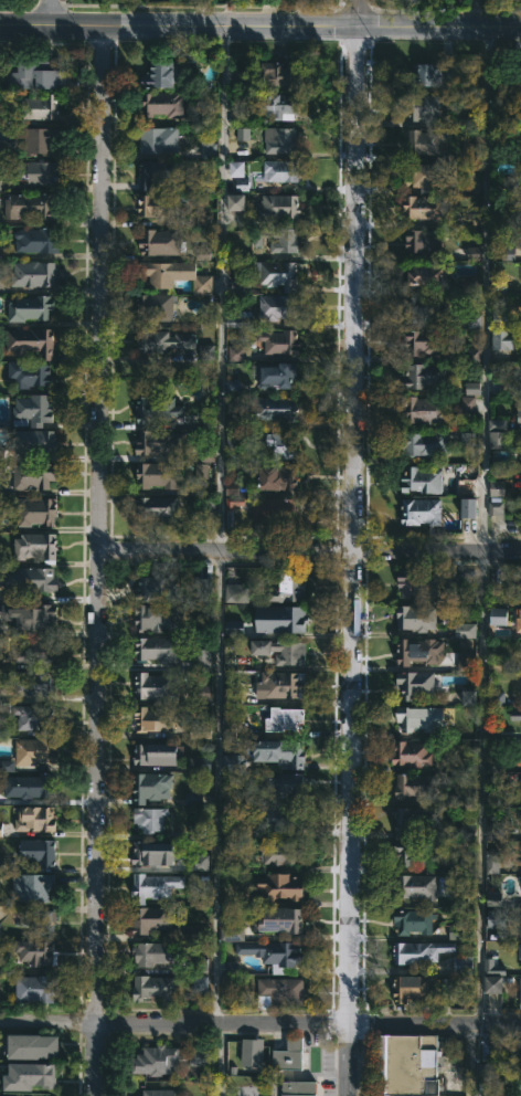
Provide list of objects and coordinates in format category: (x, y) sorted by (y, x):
road: (355, 11)
road: (51, 12)
road: (177, 20)
road: (437, 24)
building: (168, 73)
building: (518, 73)
building: (36, 74)
building: (279, 74)
building: (429, 74)
building: (160, 103)
building: (280, 105)
building: (39, 106)
building: (424, 107)
building: (40, 139)
building: (158, 139)
building: (280, 139)
building: (423, 141)
building: (1, 149)
building: (208, 150)
building: (235, 169)
building: (279, 170)
building: (42, 172)
building: (159, 172)
building: (427, 177)
building: (199, 183)
building: (0, 187)
building: (235, 202)
building: (30, 205)
building: (159, 205)
building: (277, 207)
building: (424, 207)
building: (36, 240)
building: (288, 241)
building: (423, 241)
building: (161, 242)
building: (472, 253)
building: (507, 253)
building: (32, 273)
building: (279, 274)
building: (428, 274)
building: (173, 275)
road: (219, 285)
building: (240, 285)
building: (468, 285)
building: (499, 286)
road: (483, 288)
building: (155, 305)
building: (30, 307)
building: (279, 307)
building: (424, 308)
building: (238, 318)
building: (474, 320)
building: (208, 323)
building: (501, 331)
building: (31, 340)
building: (162, 340)
building: (278, 341)
building: (425, 341)
building: (206, 352)
building: (235, 352)
building: (472, 354)
building: (29, 373)
building: (274, 375)
building: (423, 375)
building: (231, 384)
building: (471, 388)
building: (467, 403)
building: (35, 408)
building: (272, 408)
building: (159, 409)
building: (419, 410)
building: (519, 418)
building: (496, 433)
building: (467, 439)
building: (34, 442)
building: (159, 442)
building: (283, 444)
building: (425, 444)
building: (206, 454)
building: (201, 471)
building: (158, 474)
building: (33, 475)
building: (278, 477)
building: (520, 477)
building: (421, 479)
building: (465, 487)
building: (497, 487)
building: (232, 494)
building: (496, 506)
building: (157, 507)
building: (468, 507)
building: (260, 508)
building: (32, 510)
building: (422, 510)
building: (35, 547)
road: (310, 550)
road: (100, 558)
road: (349, 559)
building: (30, 579)
building: (453, 581)
building: (417, 582)
building: (288, 587)
building: (155, 589)
building: (202, 589)
building: (236, 593)
building: (34, 616)
building: (498, 616)
building: (416, 618)
building: (155, 619)
building: (291, 619)
building: (520, 624)
building: (234, 628)
building: (465, 630)
building: (520, 646)
building: (157, 650)
building: (418, 650)
building: (34, 652)
building: (289, 653)
building: (201, 658)
building: (464, 661)
building: (31, 683)
building: (414, 684)
building: (281, 685)
building: (155, 686)
building: (468, 697)
building: (497, 698)
building: (515, 715)
building: (33, 717)
building: (416, 718)
building: (153, 719)
building: (284, 719)
building: (34, 751)
building: (280, 753)
building: (411, 753)
building: (155, 755)
building: (202, 763)
building: (233, 765)
building: (7, 766)
building: (28, 786)
road: (215, 786)
building: (283, 786)
building: (414, 786)
building: (150, 787)
road: (479, 787)
building: (520, 787)
building: (192, 798)
building: (149, 819)
building: (280, 819)
building: (35, 820)
building: (416, 821)
building: (1, 830)
building: (495, 831)
building: (38, 851)
building: (150, 853)
building: (281, 853)
building: (412, 853)
building: (491, 861)
building: (32, 885)
building: (153, 886)
building: (416, 886)
building: (279, 888)
building: (42, 919)
building: (149, 919)
building: (279, 920)
building: (413, 921)
building: (496, 924)
building: (458, 932)
building: (231, 934)
building: (33, 950)
building: (519, 950)
building: (273, 951)
building: (419, 951)
building: (151, 952)
building: (199, 965)
building: (461, 965)
building: (492, 977)
building: (200, 983)
building: (444, 986)
building: (155, 987)
building: (412, 987)
building: (520, 989)
building: (33, 990)
building: (279, 992)
road: (260, 1021)
building: (32, 1046)
building: (488, 1048)
building: (252, 1053)
building: (199, 1055)
road: (219, 1058)
road: (469, 1058)
building: (156, 1060)
building: (411, 1064)
building: (291, 1069)
building: (41, 1073)
building: (513, 1081)
building: (160, 1092)
building: (15, 1094)

